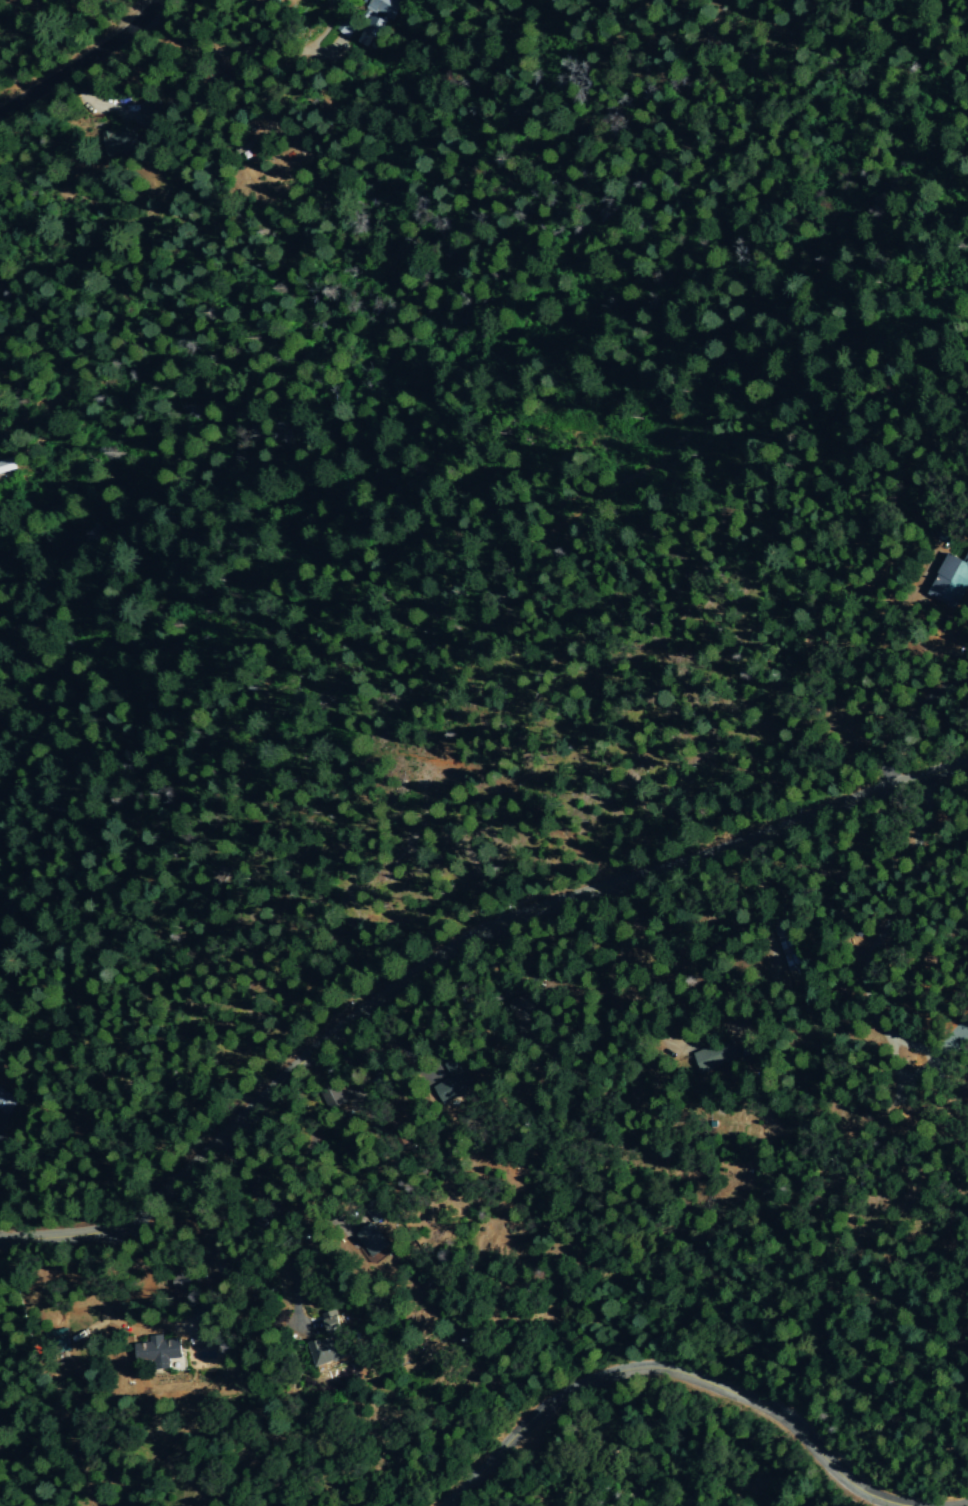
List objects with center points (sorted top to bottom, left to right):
building: (383, 6)
road: (78, 57)
building: (948, 580)
road: (449, 950)
road: (397, 1040)
building: (709, 1059)
road: (379, 1060)
road: (298, 1163)
road: (281, 1222)
building: (368, 1237)
road: (155, 1325)
building: (51, 1340)
building: (153, 1352)
road: (701, 1375)

